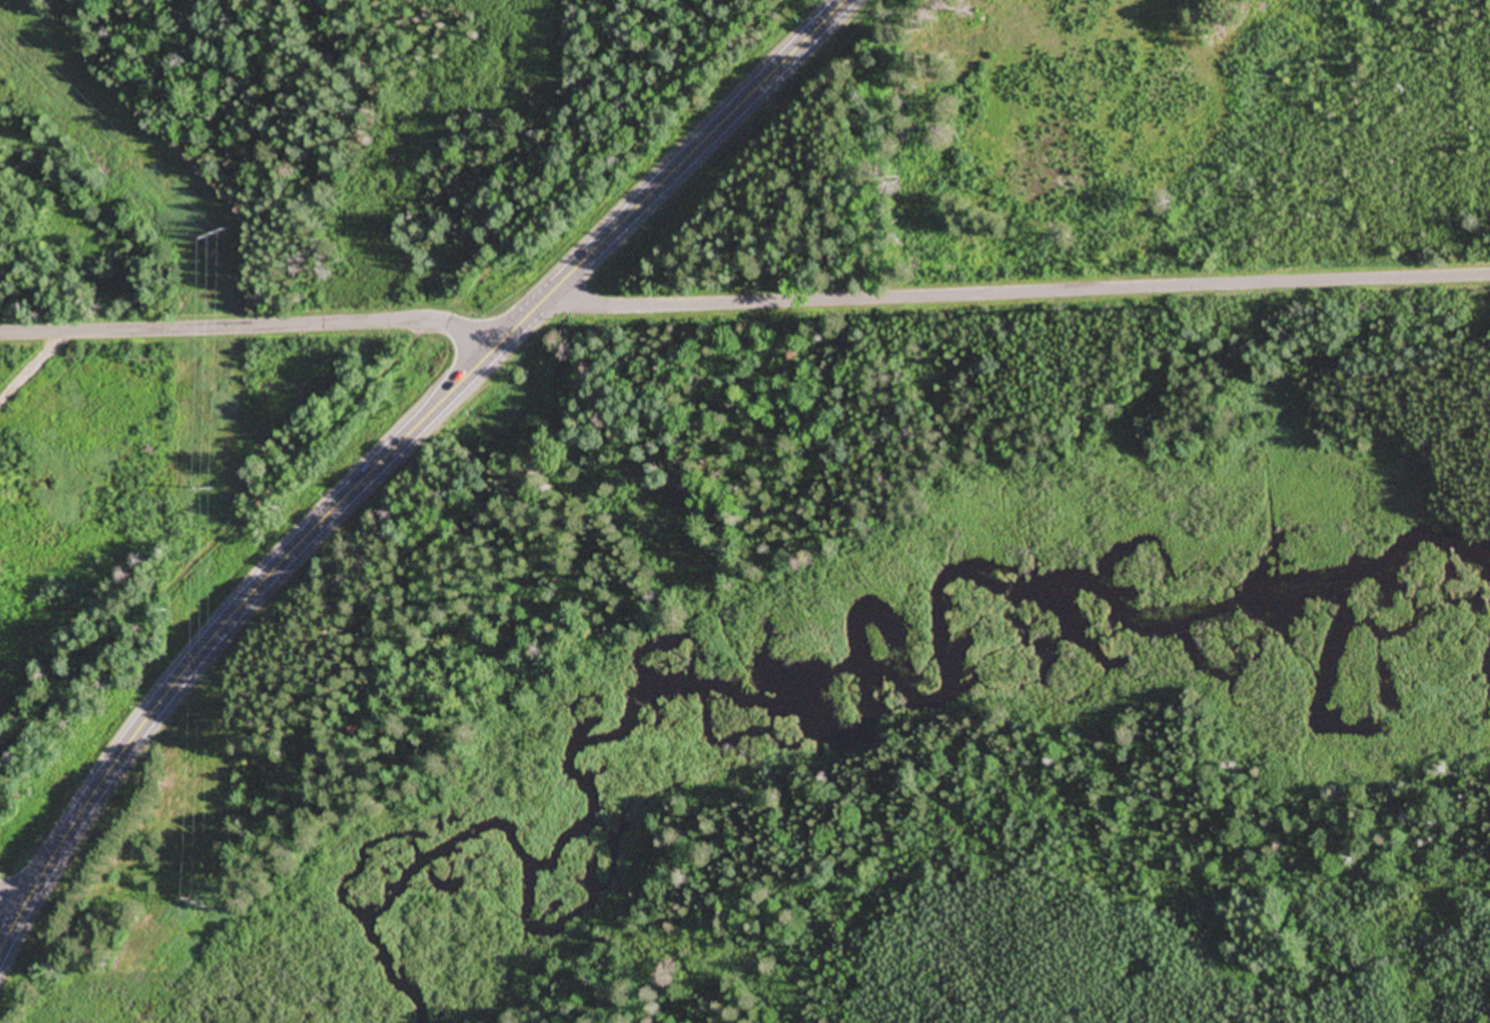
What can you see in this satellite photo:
park: (1138, 141)
power tower: (215, 234)
road: (1022, 292)
road: (252, 324)
road: (394, 454)
power tower: (210, 490)
road: (13, 904)
power tower: (203, 905)

